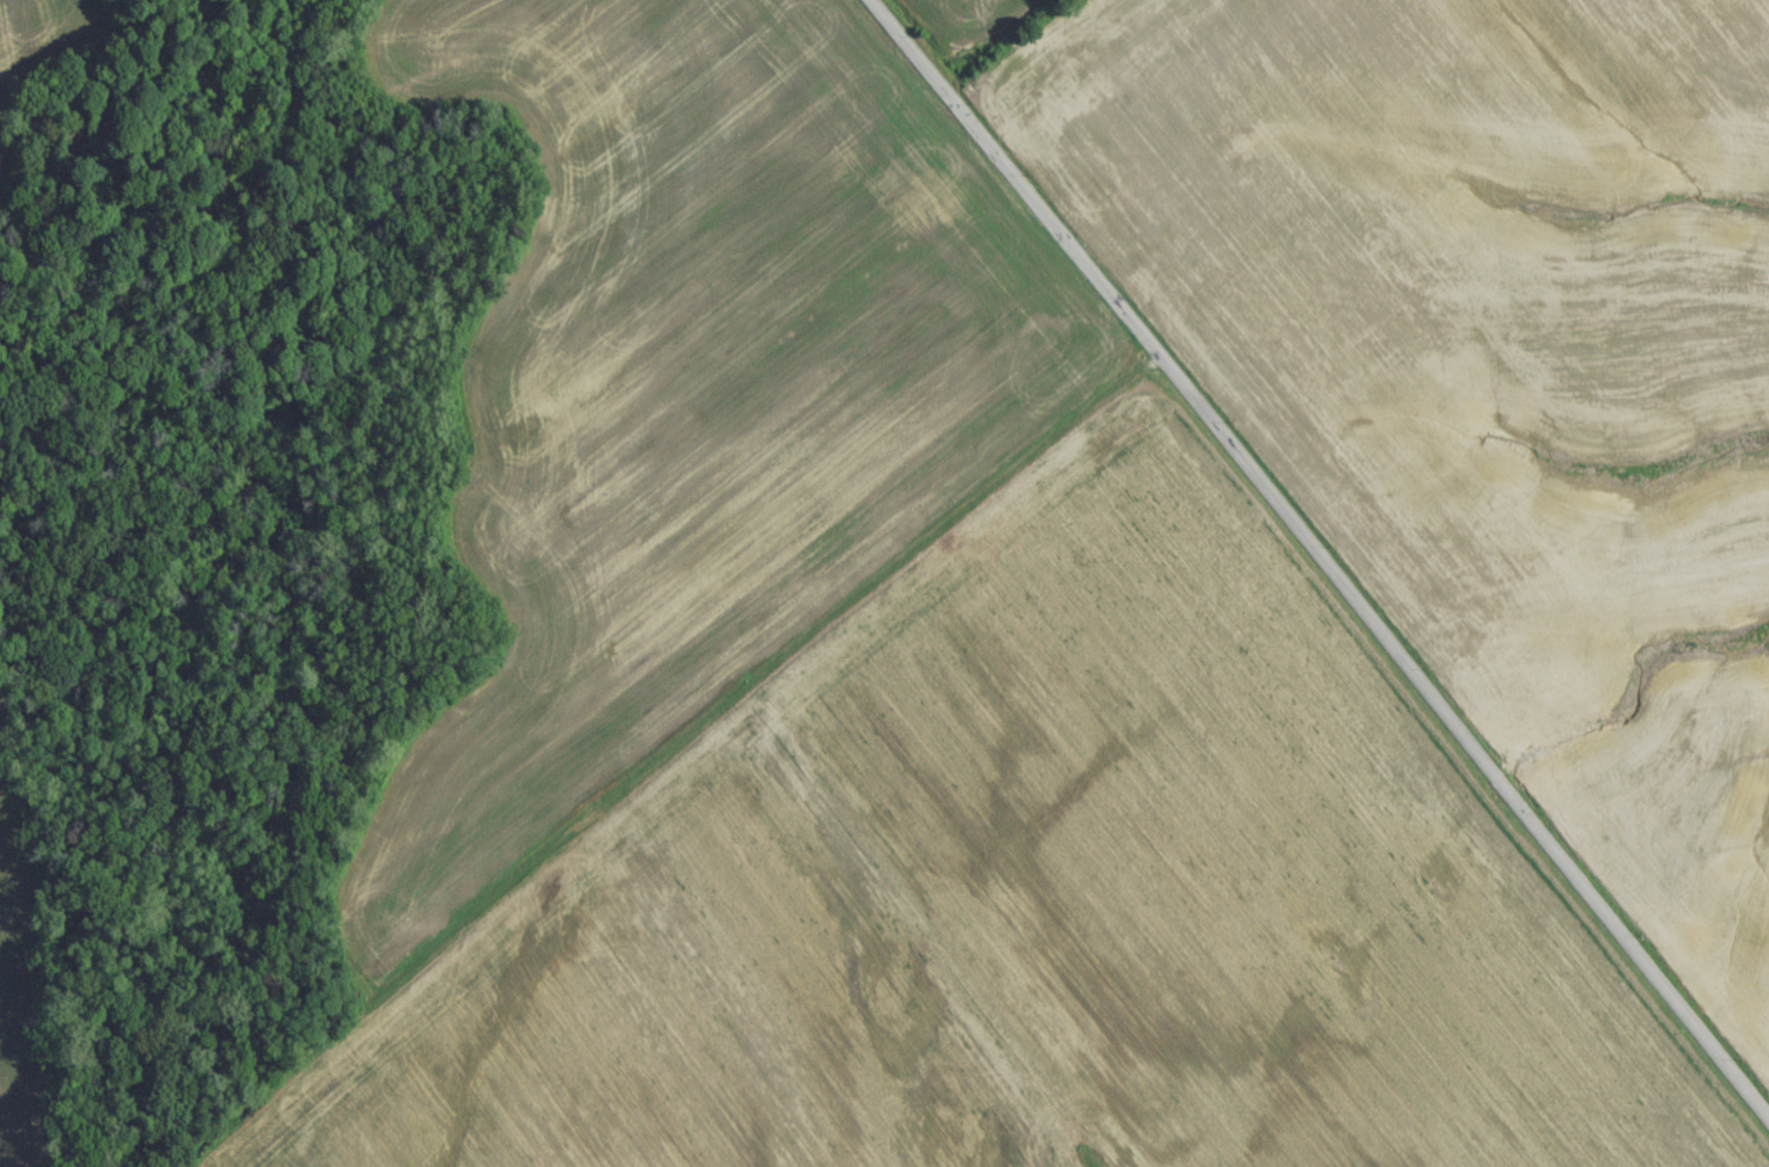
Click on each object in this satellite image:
road: (1317, 554)

